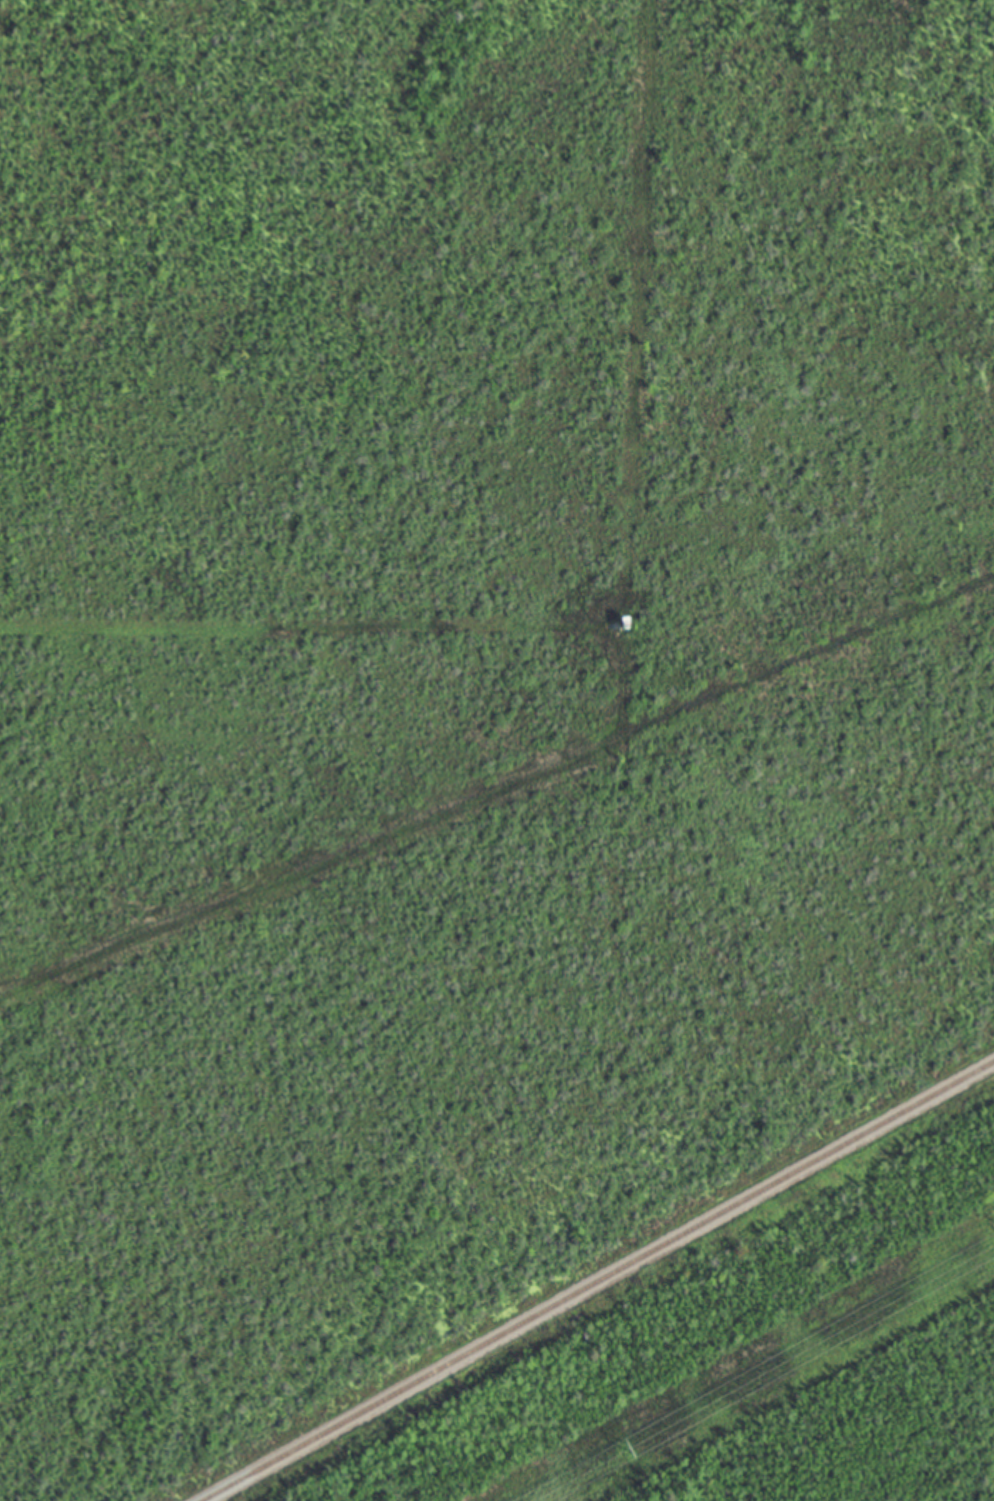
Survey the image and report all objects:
railway: (597, 1279)
power tower: (631, 1446)

